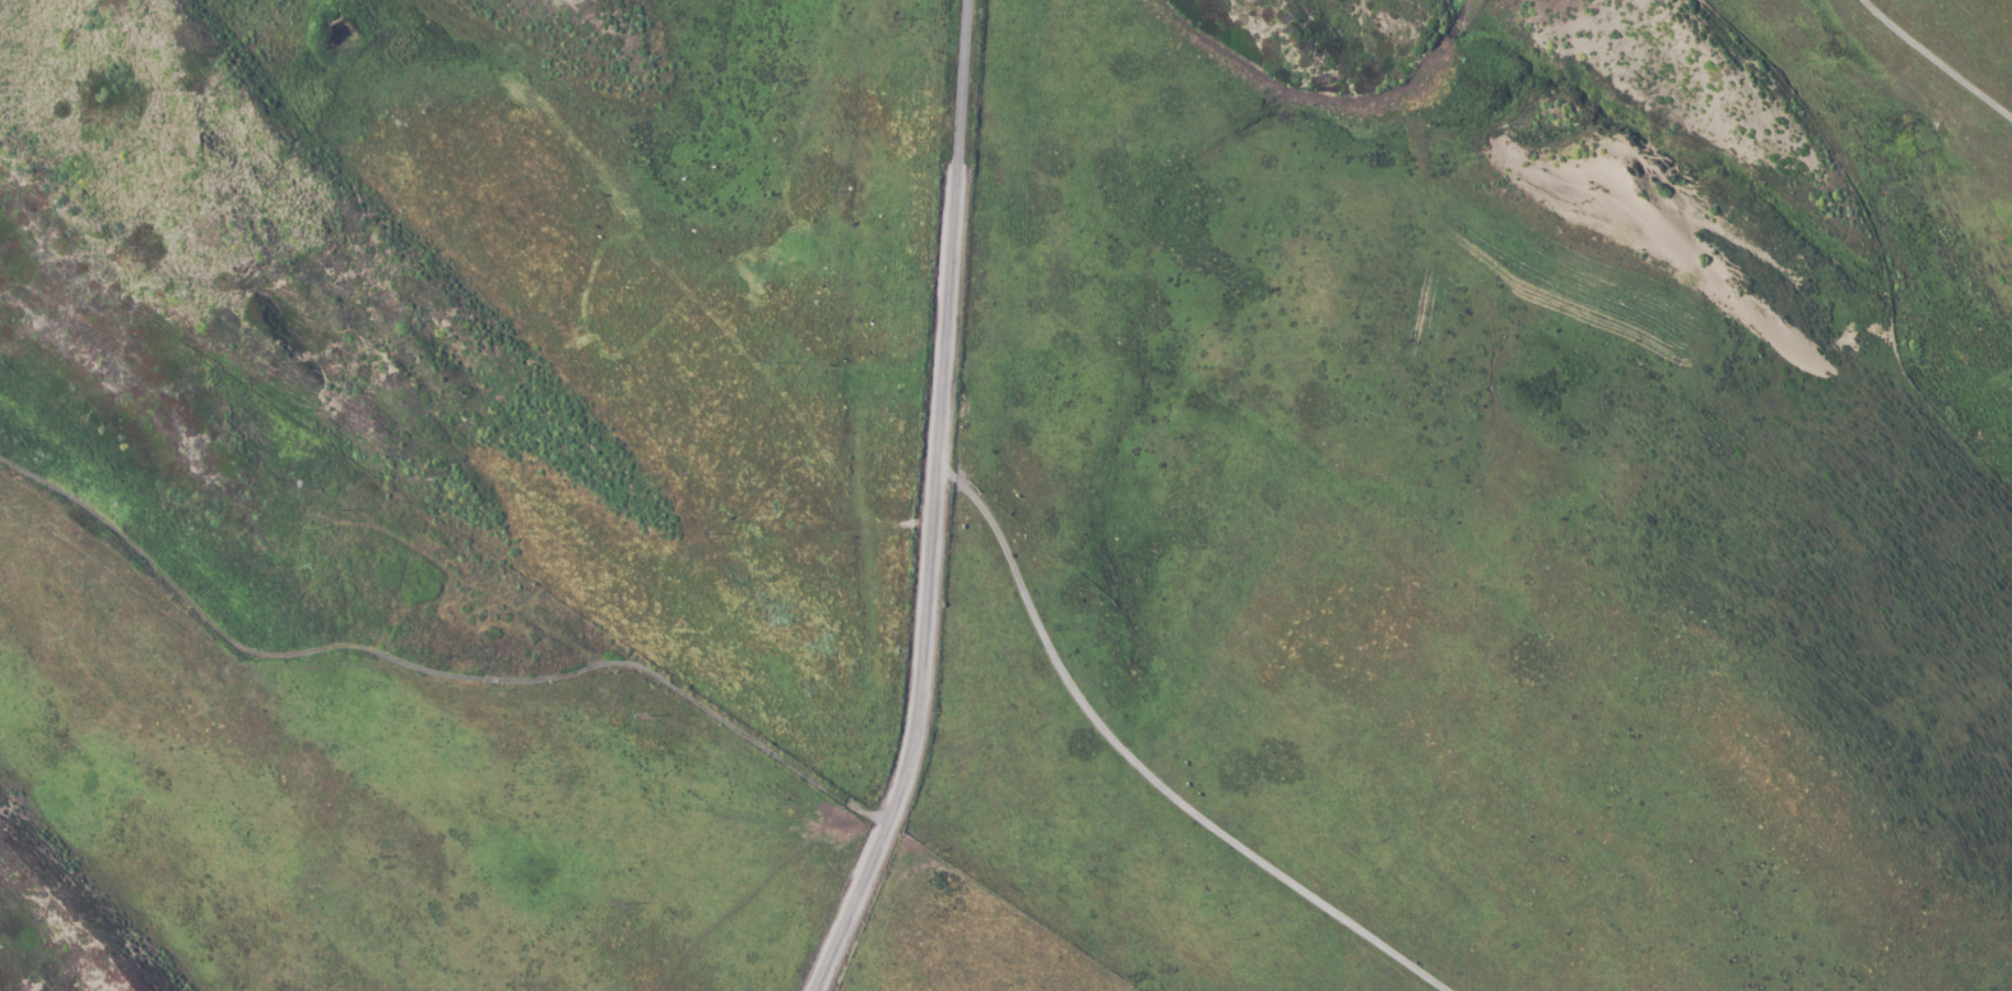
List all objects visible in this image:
road: (1936, 63)
road: (932, 505)
road: (430, 672)
road: (1145, 769)

